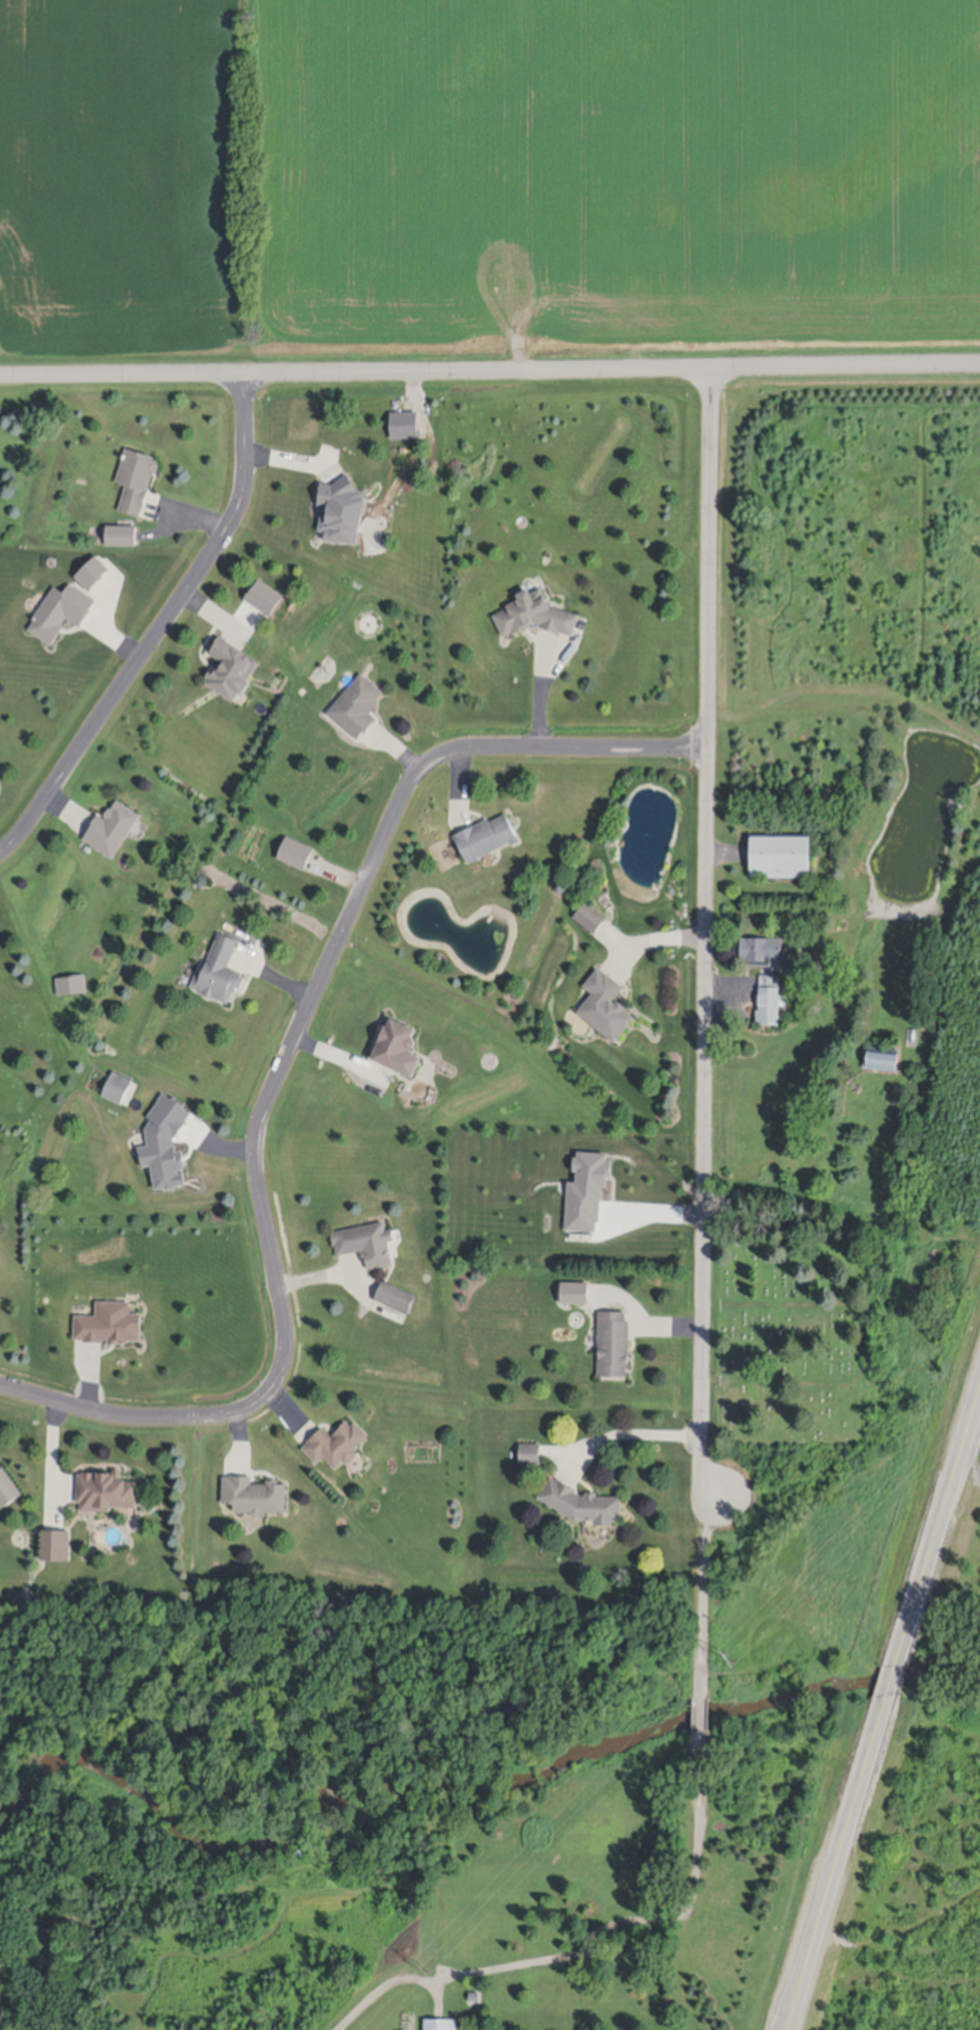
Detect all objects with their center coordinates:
building: (500, 168)
building: (478, 221)
building: (431, 243)
building: (572, 268)
road: (489, 369)
building: (135, 480)
building: (342, 510)
building: (121, 535)
building: (92, 573)
building: (60, 612)
building: (535, 615)
road: (160, 629)
building: (231, 669)
road: (547, 695)
building: (357, 706)
building: (112, 829)
building: (486, 838)
building: (295, 853)
building: (780, 857)
building: (590, 918)
road: (706, 937)
road: (651, 941)
building: (761, 952)
building: (219, 972)
building: (71, 985)
building: (770, 1001)
building: (605, 1007)
building: (397, 1050)
building: (881, 1059)
road: (282, 1068)
building: (117, 1088)
building: (576, 1157)
building: (366, 1244)
building: (395, 1299)
building: (109, 1325)
building: (613, 1346)
road: (629, 1434)
building: (336, 1446)
building: (530, 1455)
building: (7, 1491)
building: (106, 1494)
building: (254, 1497)
building: (582, 1506)
road: (702, 1597)
power tower: (729, 1659)
road: (884, 1713)
road: (702, 1720)
road: (585, 1950)
power tower: (422, 1968)
building: (440, 2026)

